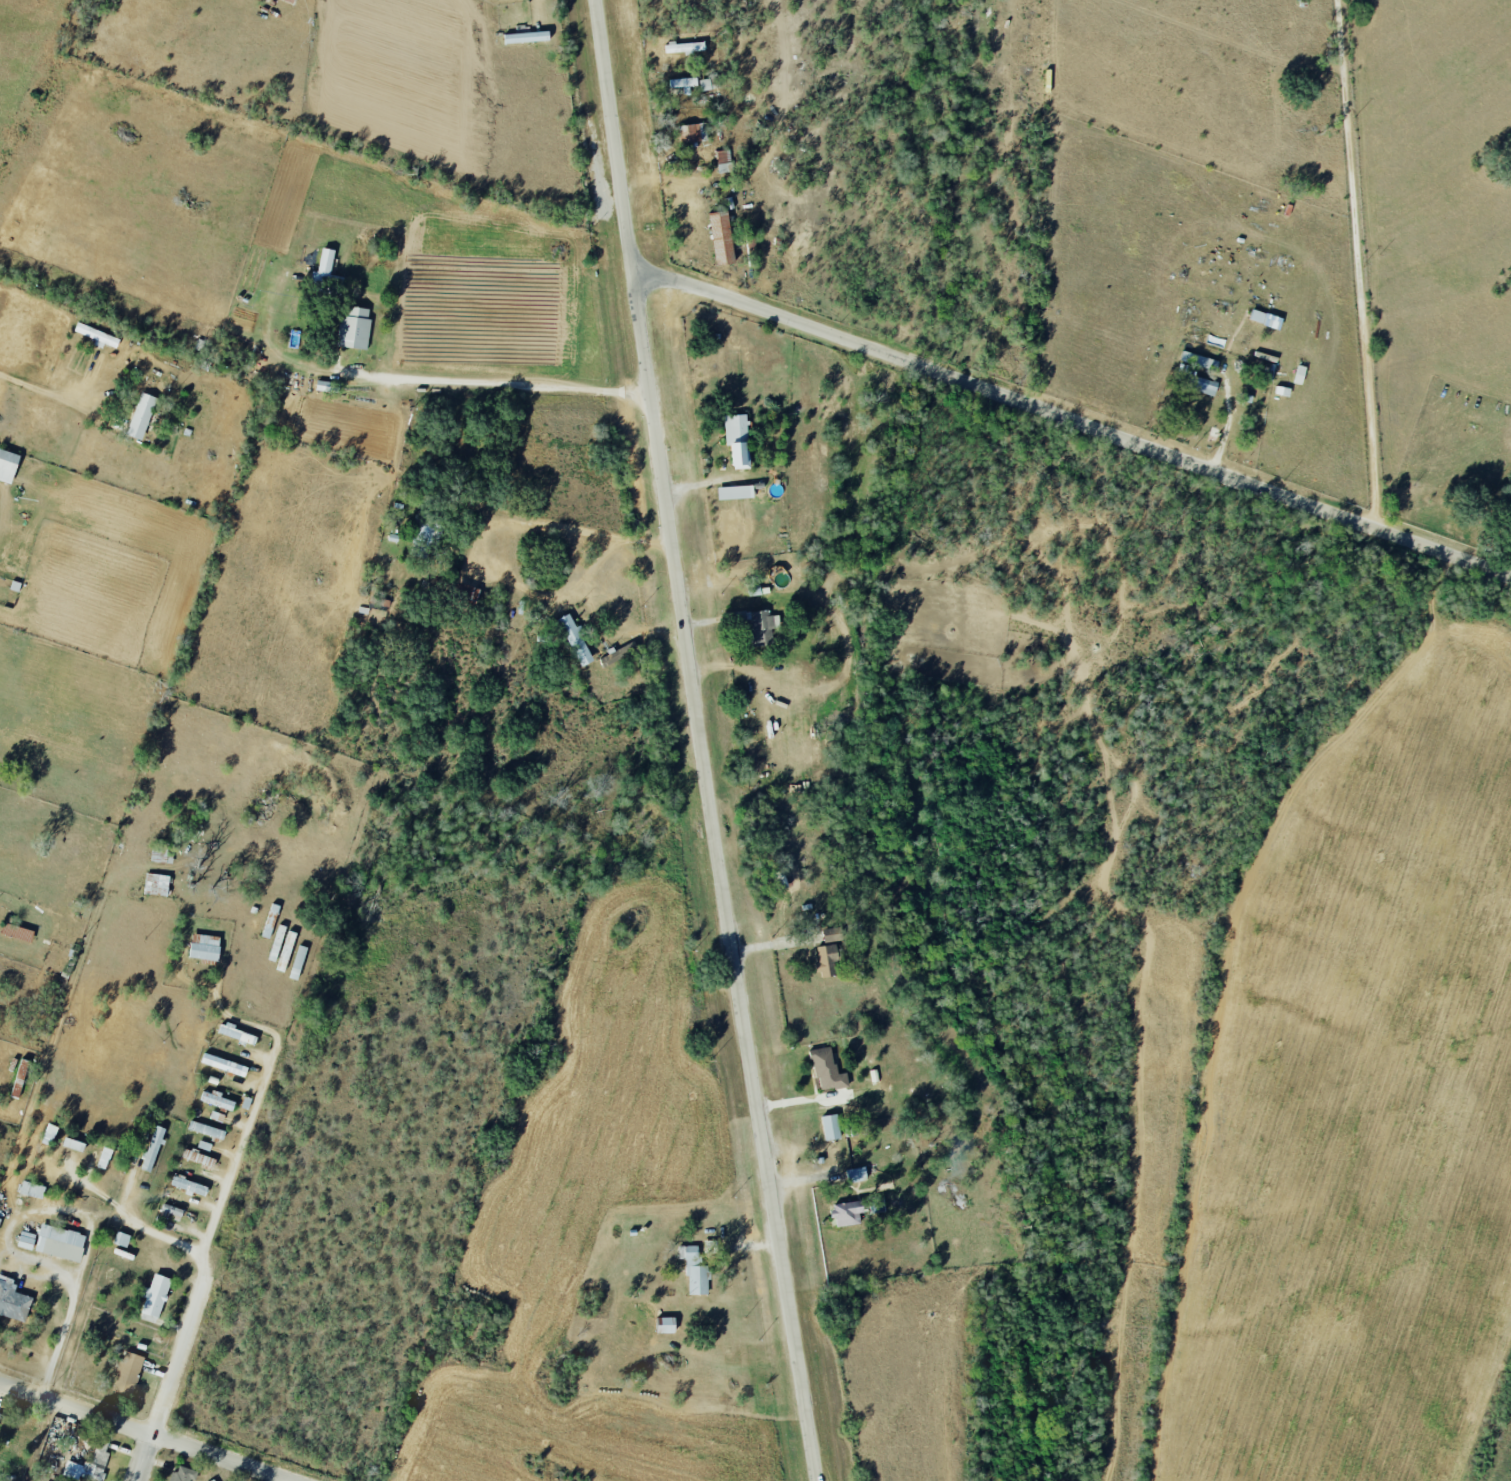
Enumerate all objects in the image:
building: (265, 0)
building: (289, 1)
road: (322, 8)
building: (526, 37)
building: (684, 47)
building: (683, 83)
building: (705, 85)
building: (692, 133)
building: (723, 161)
building: (721, 238)
building: (325, 264)
road: (1358, 265)
road: (677, 286)
building: (1265, 319)
building: (354, 329)
building: (96, 335)
building: (1195, 372)
road: (423, 373)
building: (1300, 375)
building: (320, 386)
road: (45, 389)
building: (141, 416)
road: (1228, 426)
road: (1117, 435)
building: (737, 440)
building: (7, 466)
building: (735, 493)
road: (481, 544)
building: (468, 593)
building: (761, 628)
building: (574, 640)
road: (695, 742)
building: (781, 881)
building: (156, 885)
building: (16, 932)
building: (833, 935)
road: (772, 944)
building: (204, 948)
building: (827, 961)
building: (237, 1033)
building: (224, 1064)
building: (828, 1071)
building: (217, 1100)
road: (253, 1111)
building: (831, 1126)
building: (206, 1130)
building: (48, 1133)
building: (73, 1144)
building: (153, 1148)
building: (104, 1157)
building: (198, 1157)
building: (855, 1174)
building: (188, 1185)
building: (32, 1189)
road: (58, 1207)
building: (172, 1209)
building: (846, 1213)
building: (121, 1238)
building: (26, 1240)
building: (59, 1242)
building: (710, 1247)
building: (694, 1270)
building: (155, 1295)
building: (13, 1300)
building: (666, 1325)
road: (55, 1349)
building: (127, 1373)
building: (0, 1413)
road: (139, 1433)
road: (146, 1460)
building: (182, 1474)
road: (249, 1476)
building: (213, 1480)

